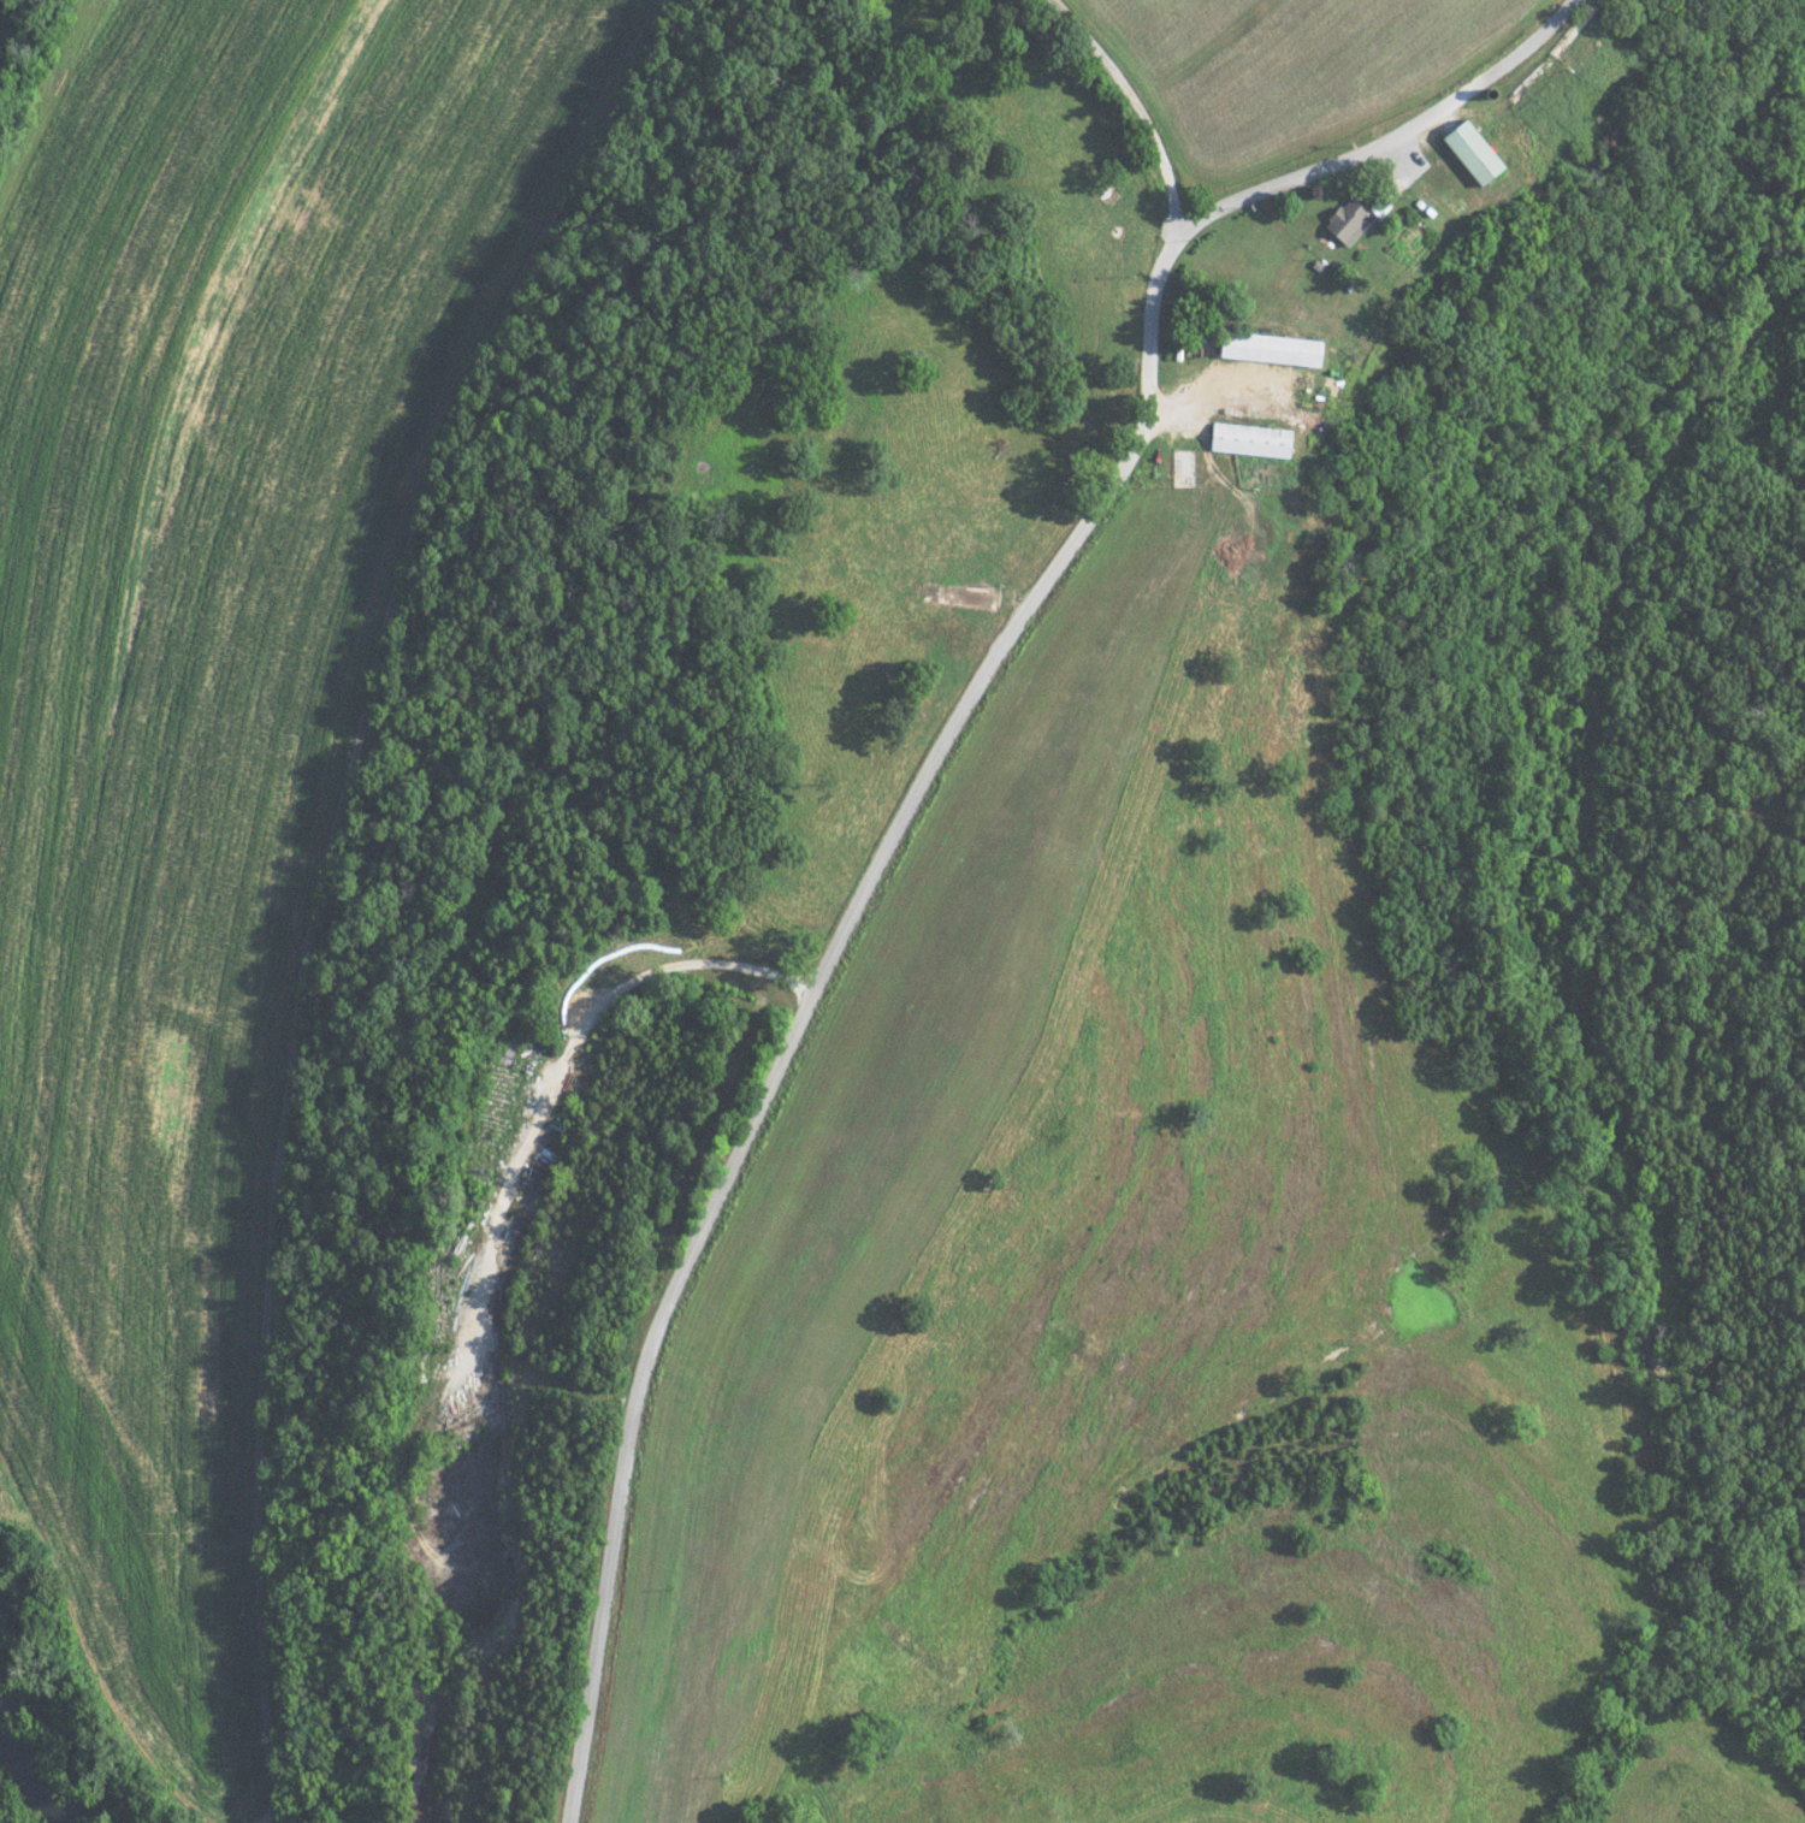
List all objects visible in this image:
road: (1135, 108)
road: (1410, 136)
building: (1467, 152)
building: (1342, 220)
building: (1265, 348)
building: (1247, 438)
road: (356, 880)
road: (823, 988)

